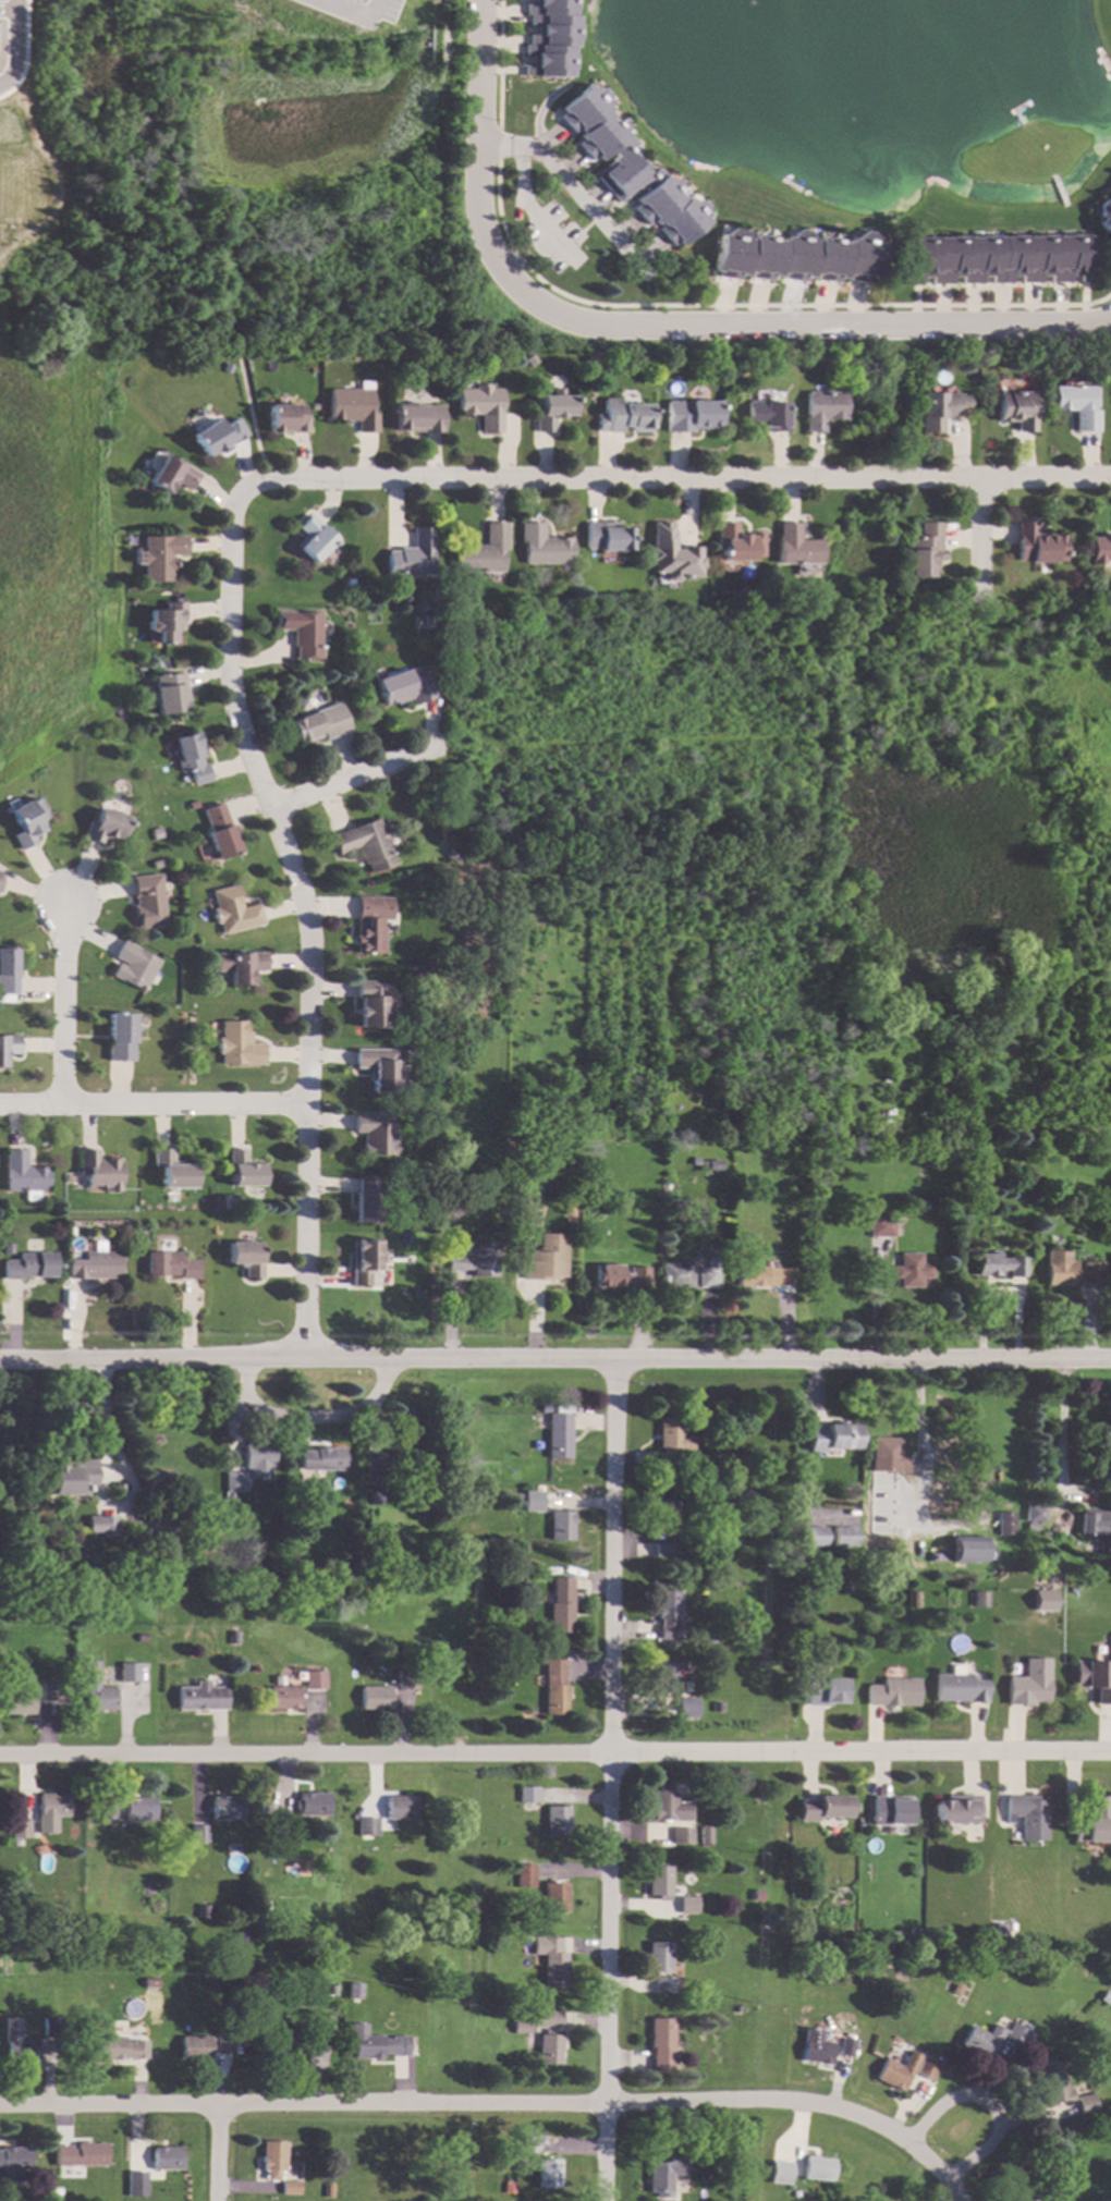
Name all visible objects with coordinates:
road: (7, 11)
road: (355, 11)
building: (548, 38)
road: (14, 45)
road: (498, 64)
road: (498, 146)
building: (627, 168)
road: (524, 191)
road: (583, 198)
building: (1103, 216)
building: (795, 257)
building: (999, 258)
road: (660, 323)
building: (227, 368)
building: (479, 406)
building: (1077, 406)
building: (352, 407)
building: (821, 408)
building: (551, 409)
building: (938, 409)
building: (1015, 409)
building: (197, 414)
building: (689, 416)
building: (767, 416)
road: (251, 417)
building: (417, 417)
building: (622, 417)
building: (285, 419)
building: (217, 436)
building: (171, 475)
road: (669, 477)
road: (982, 534)
building: (605, 536)
building: (312, 540)
building: (735, 543)
building: (1038, 545)
building: (541, 546)
building: (796, 547)
building: (1100, 549)
building: (924, 551)
building: (481, 552)
building: (671, 554)
building: (410, 555)
building: (160, 558)
building: (437, 595)
building: (167, 622)
building: (427, 622)
building: (302, 632)
building: (404, 686)
building: (170, 694)
building: (319, 724)
building: (191, 758)
road: (354, 777)
building: (28, 822)
building: (106, 827)
building: (219, 832)
building: (156, 834)
building: (364, 844)
building: (451, 856)
building: (0, 875)
building: (147, 901)
building: (233, 910)
road: (312, 921)
building: (370, 924)
building: (134, 966)
building: (244, 967)
building: (8, 971)
road: (65, 1000)
building: (369, 1004)
building: (121, 1038)
building: (239, 1046)
building: (8, 1049)
building: (696, 1049)
building: (377, 1068)
road: (154, 1100)
building: (888, 1133)
building: (376, 1135)
building: (706, 1164)
building: (244, 1170)
building: (100, 1171)
building: (173, 1171)
building: (23, 1175)
building: (1088, 1197)
building: (367, 1199)
building: (218, 1205)
building: (457, 1207)
building: (774, 1219)
building: (882, 1227)
building: (8, 1249)
building: (246, 1258)
building: (547, 1259)
building: (478, 1260)
building: (364, 1261)
building: (29, 1265)
building: (171, 1265)
building: (1000, 1265)
building: (94, 1267)
building: (1110, 1267)
building: (1069, 1270)
building: (912, 1271)
building: (710, 1274)
building: (621, 1276)
building: (676, 1276)
building: (762, 1276)
building: (420, 1292)
road: (875, 1300)
road: (554, 1359)
road: (314, 1399)
building: (546, 1408)
road: (918, 1418)
road: (1064, 1426)
building: (559, 1436)
building: (833, 1438)
building: (671, 1443)
building: (887, 1456)
building: (406, 1458)
building: (322, 1459)
building: (259, 1460)
building: (374, 1467)
building: (75, 1472)
building: (158, 1480)
building: (234, 1484)
building: (118, 1489)
building: (544, 1495)
building: (520, 1496)
building: (375, 1497)
building: (1035, 1513)
building: (664, 1514)
building: (1094, 1524)
building: (1006, 1525)
building: (102, 1526)
building: (163, 1526)
building: (562, 1526)
building: (1031, 1527)
building: (814, 1537)
building: (843, 1538)
building: (1103, 1549)
building: (968, 1550)
building: (664, 1552)
building: (932, 1557)
building: (846, 1588)
building: (475, 1597)
building: (914, 1599)
building: (979, 1599)
building: (561, 1606)
building: (667, 1613)
building: (747, 1630)
building: (142, 1637)
building: (234, 1638)
building: (130, 1674)
building: (46, 1676)
building: (666, 1678)
building: (1094, 1679)
building: (314, 1680)
building: (406, 1680)
building: (1029, 1684)
building: (553, 1686)
building: (959, 1688)
building: (97, 1690)
building: (825, 1690)
building: (51, 1692)
building: (893, 1692)
building: (202, 1697)
building: (283, 1698)
building: (374, 1698)
building: (19, 1703)
building: (686, 1708)
building: (718, 1708)
road: (555, 1753)
road: (612, 1781)
building: (527, 1795)
building: (264, 1801)
building: (312, 1805)
building: (53, 1806)
building: (669, 1807)
building: (399, 1808)
building: (823, 1808)
building: (139, 1809)
building: (225, 1809)
building: (264, 1810)
building: (957, 1810)
building: (107, 1811)
building: (890, 1811)
building: (1028, 1815)
building: (557, 1821)
building: (1095, 1823)
building: (278, 1824)
building: (365, 1826)
building: (20, 1830)
building: (306, 1830)
building: (198, 1834)
building: (705, 1835)
building: (681, 1836)
building: (504, 1842)
building: (305, 1864)
building: (525, 1876)
building: (658, 1881)
building: (757, 1896)
building: (555, 1897)
building: (686, 1905)
building: (203, 1911)
building: (1001, 1930)
building: (914, 1933)
building: (936, 1934)
building: (657, 1957)
building: (551, 1961)
building: (2, 1966)
building: (150, 1983)
building: (661, 1984)
building: (957, 1990)
building: (329, 1991)
building: (353, 1992)
building: (50, 2027)
building: (521, 2027)
building: (233, 2028)
building: (1016, 2034)
building: (316, 2037)
building: (548, 2037)
building: (981, 2041)
building: (16, 2044)
building: (374, 2044)
building: (660, 2044)
building: (222, 2045)
building: (846, 2046)
building: (194, 2047)
building: (815, 2047)
building: (117, 2050)
building: (279, 2051)
building: (927, 2069)
building: (899, 2071)
building: (1054, 2083)
road: (459, 2104)
building: (1086, 2104)
road: (928, 2119)
road: (998, 2127)
building: (527, 2142)
road: (211, 2153)
building: (81, 2155)
building: (14, 2157)
building: (166, 2157)
building: (271, 2159)
road: (940, 2167)
building: (818, 2168)
building: (781, 2173)
building: (548, 2174)
building: (663, 2174)
building: (134, 2176)
building: (289, 2188)
building: (509, 2188)
building: (1016, 2189)
building: (329, 2190)
building: (56, 2192)
building: (1050, 2200)

